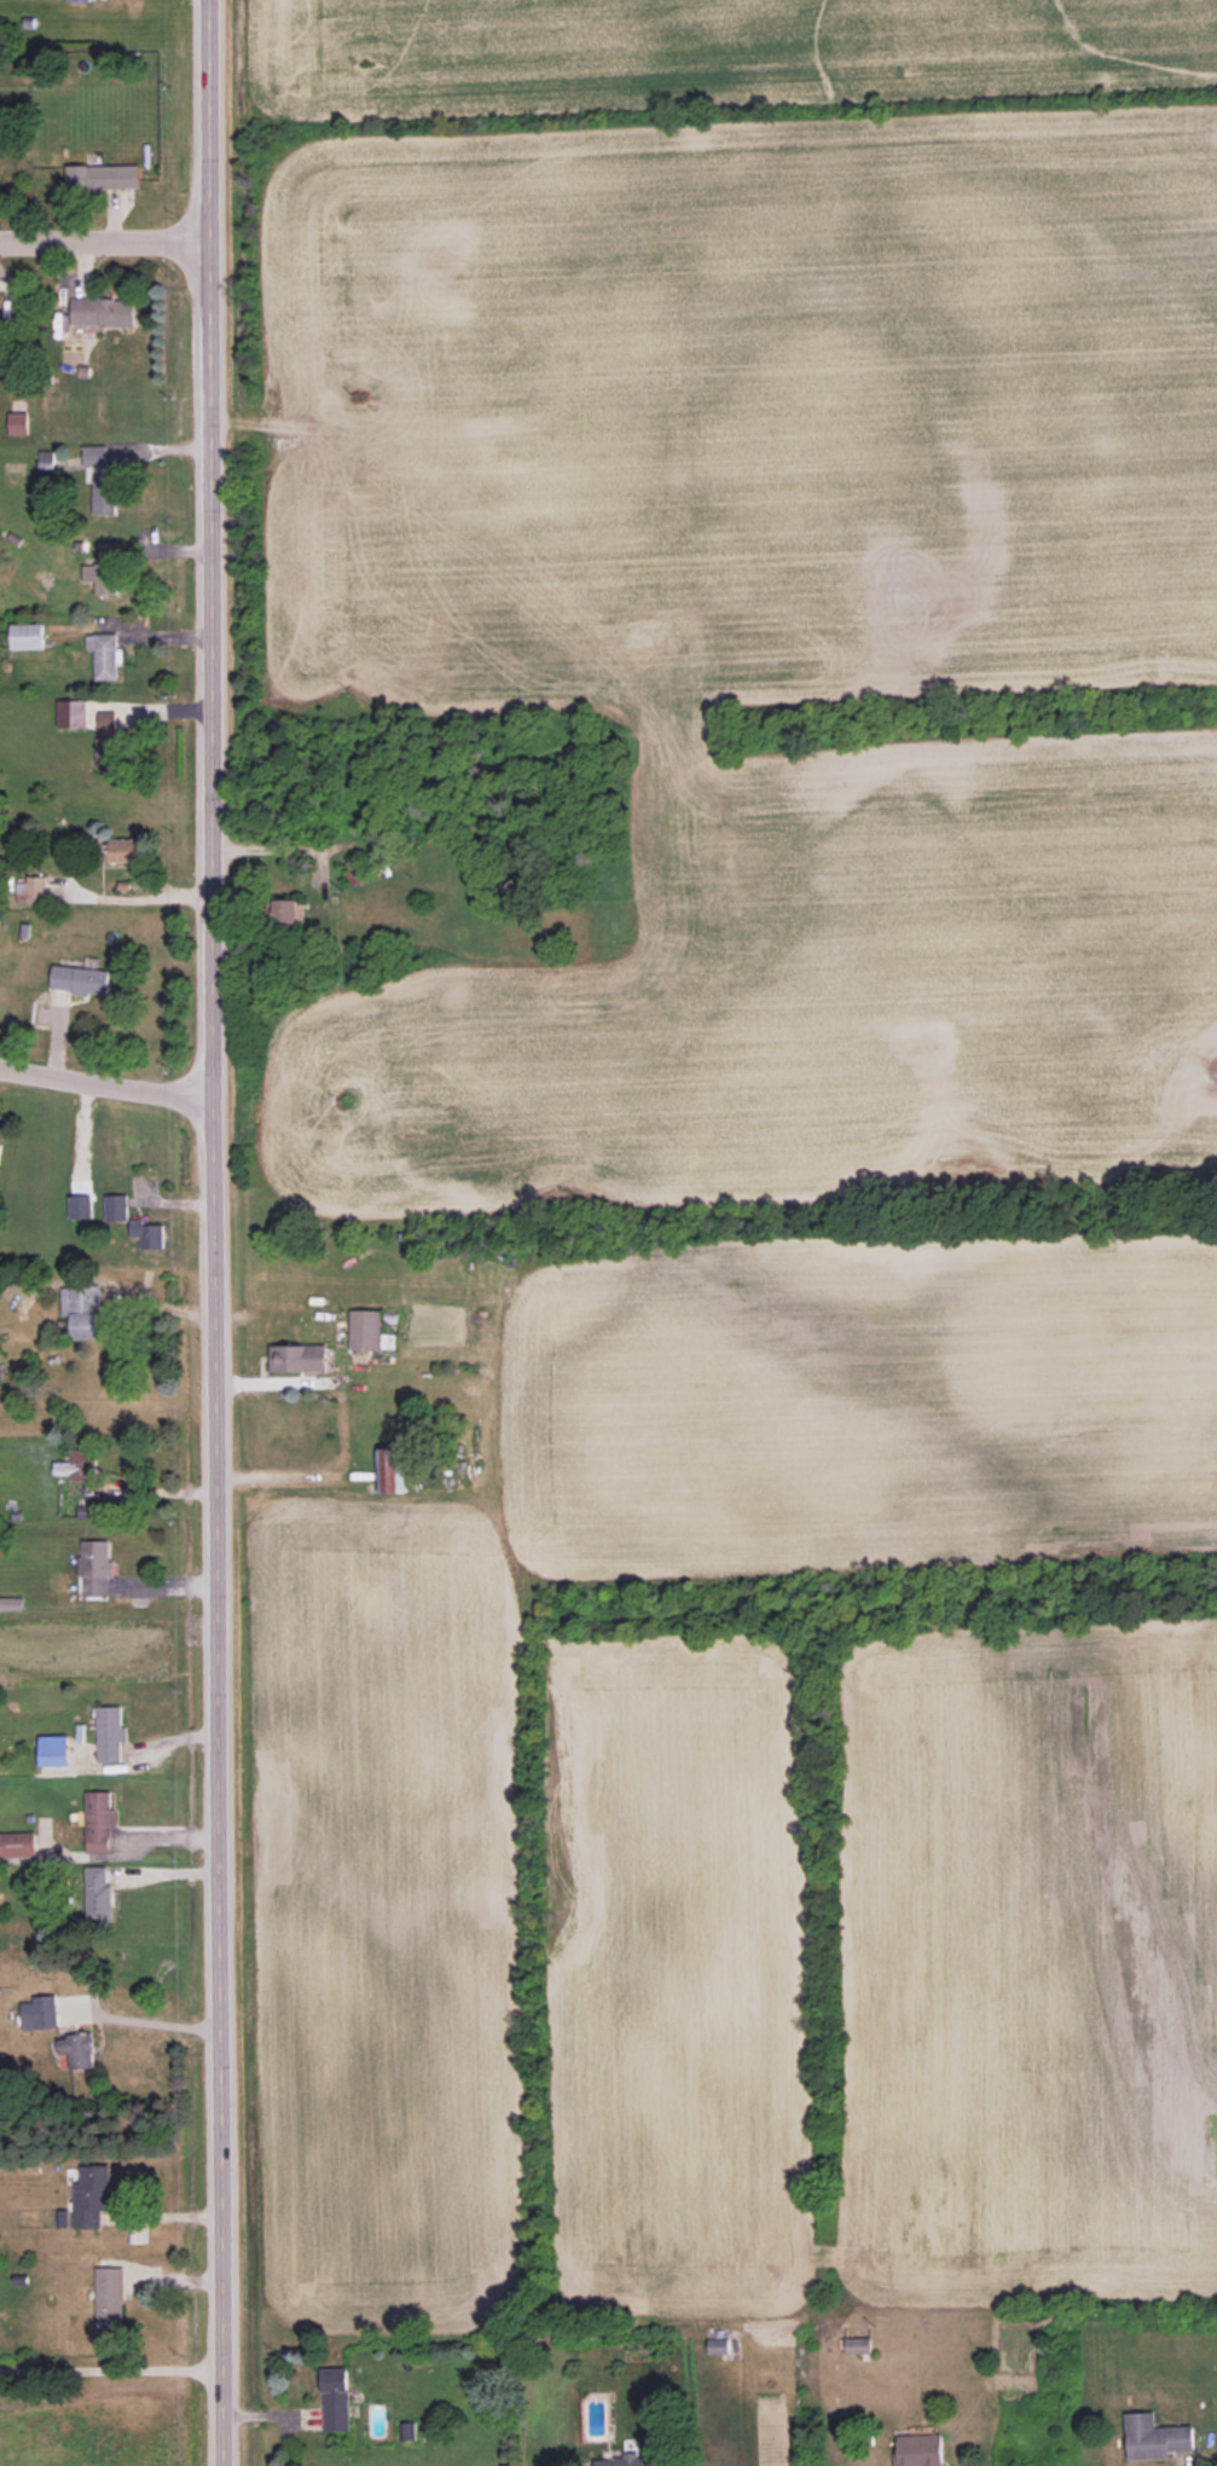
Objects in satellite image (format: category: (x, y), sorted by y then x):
building: (79, 0)
building: (104, 178)
road: (103, 243)
building: (103, 312)
building: (100, 479)
building: (105, 569)
building: (27, 636)
building: (104, 655)
building: (71, 713)
building: (108, 741)
building: (126, 850)
building: (355, 872)
building: (31, 890)
building: (286, 911)
building: (80, 979)
road: (105, 1086)
building: (0, 1147)
building: (81, 1206)
building: (116, 1208)
road: (213, 1232)
building: (149, 1234)
building: (82, 1310)
building: (297, 1358)
building: (79, 1465)
building: (393, 1470)
building: (86, 1511)
building: (95, 1567)
road: (164, 1594)
building: (11, 1603)
building: (110, 1733)
building: (53, 1750)
building: (98, 1823)
building: (17, 1843)
building: (98, 1894)
building: (40, 2013)
road: (145, 2028)
building: (77, 2050)
building: (92, 2195)
building: (110, 2297)
building: (718, 2345)
building: (858, 2345)
road: (110, 2378)
building: (335, 2398)
building: (1154, 2437)
building: (918, 2450)
building: (627, 2460)

